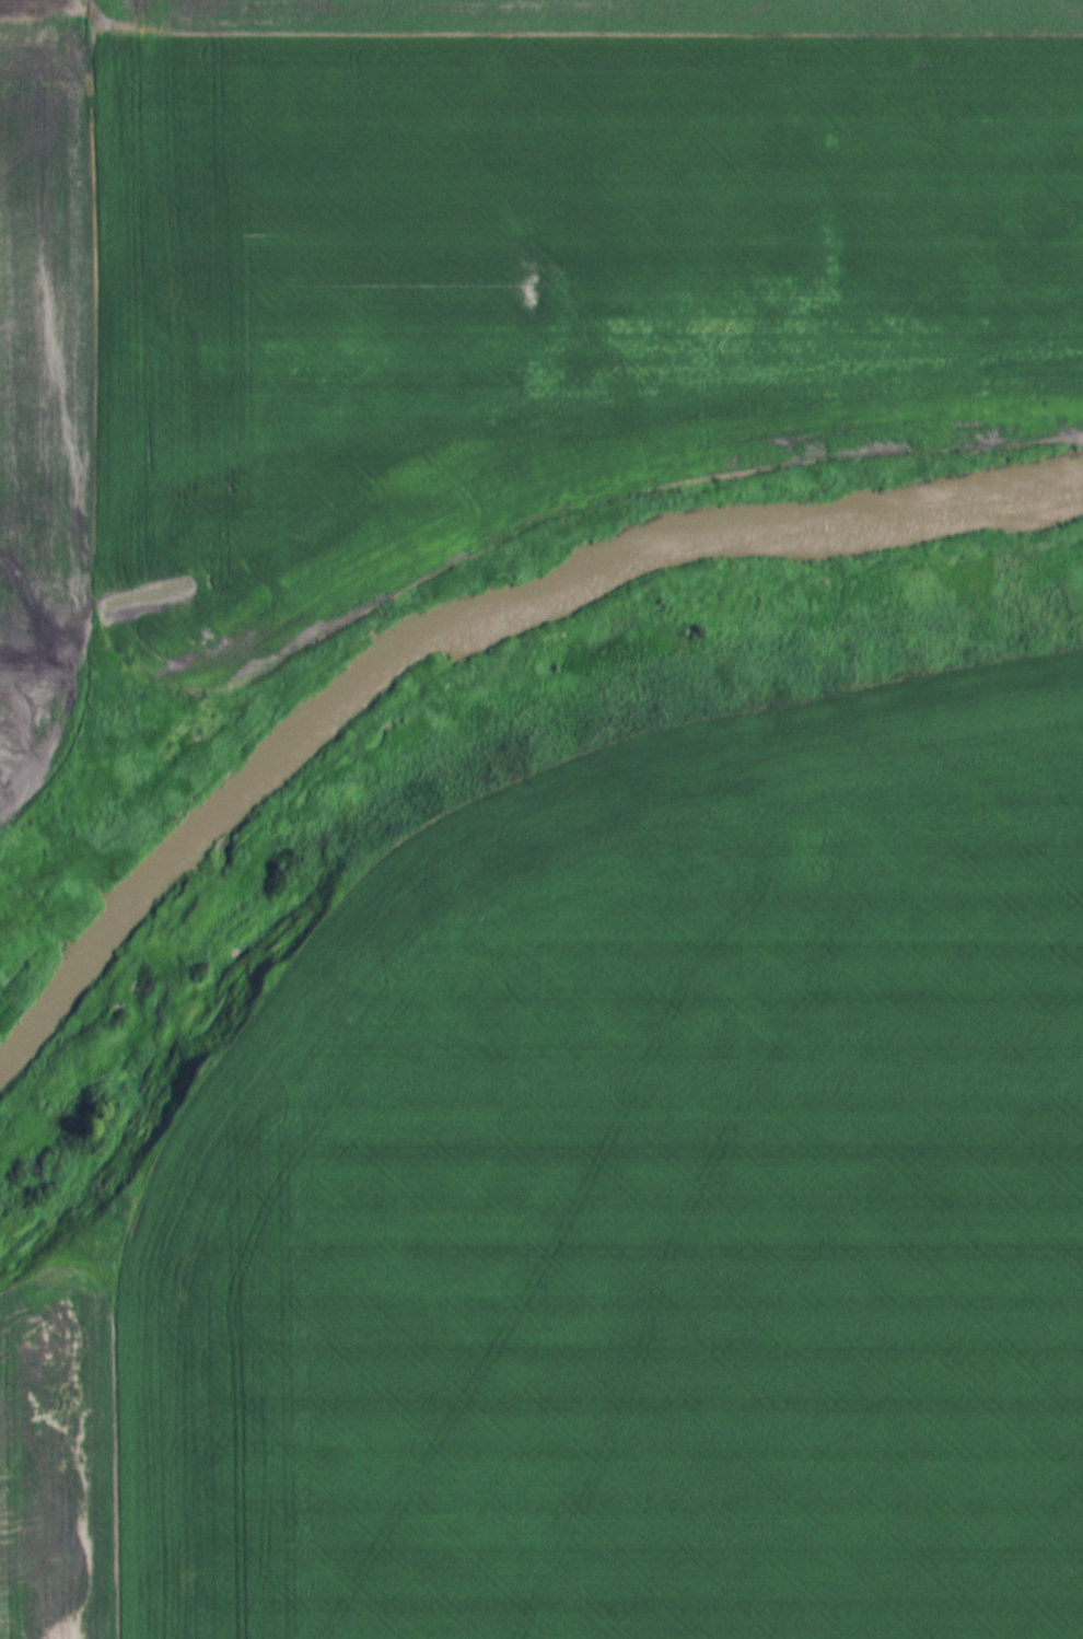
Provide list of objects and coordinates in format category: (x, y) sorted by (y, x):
crop: (597, 12)
crop: (545, 283)
river: (459, 626)
crop: (651, 1211)

